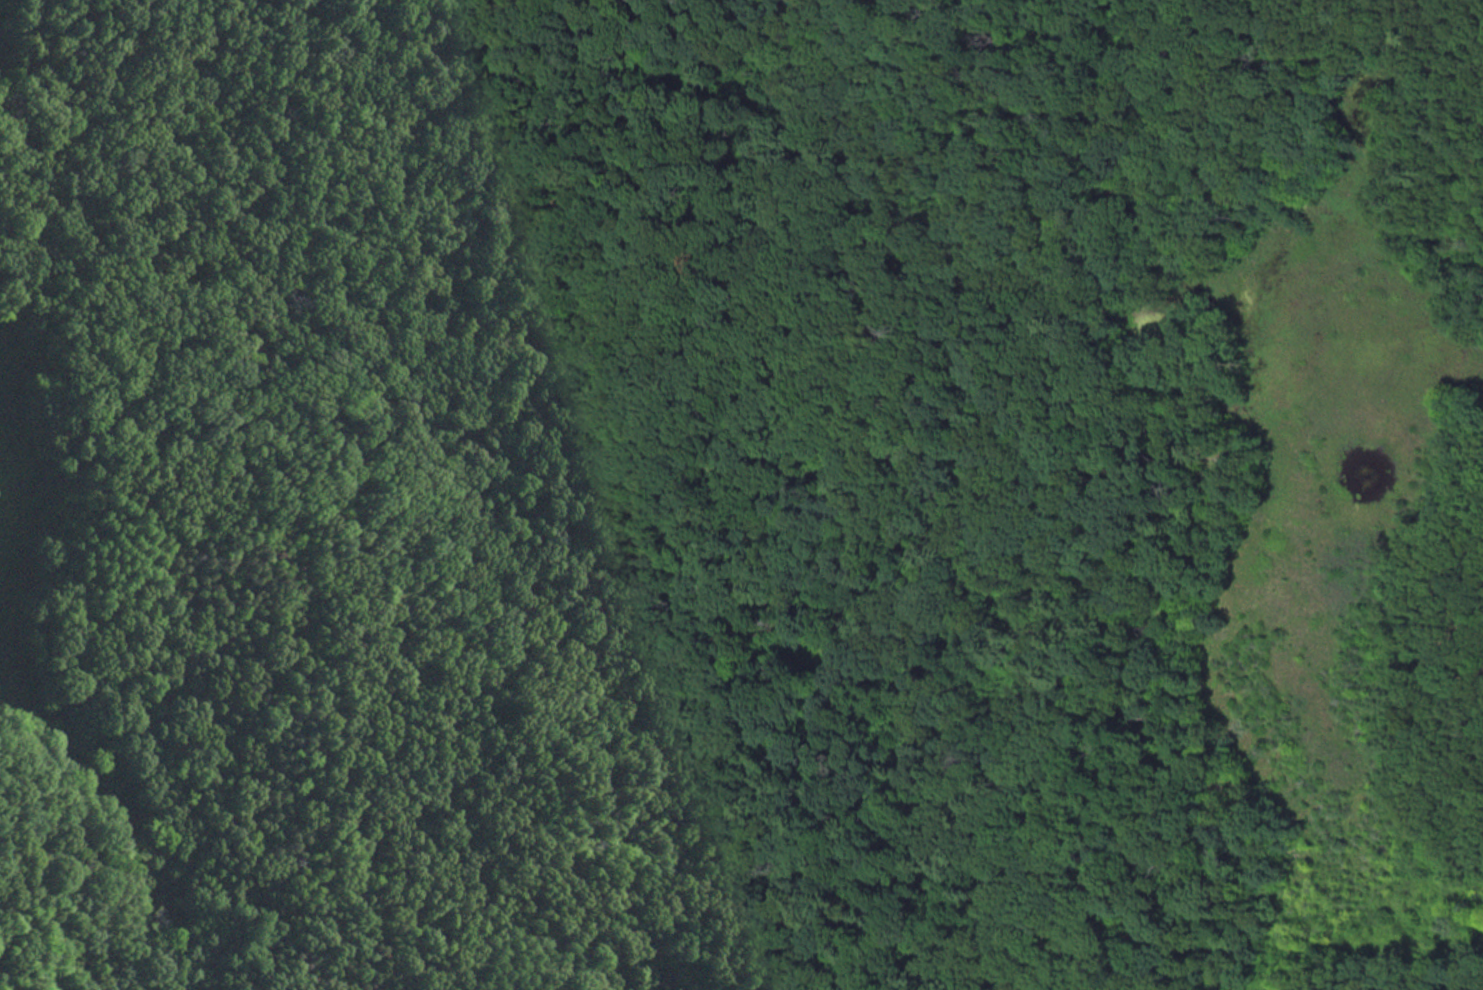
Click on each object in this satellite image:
park: (741, 495)

